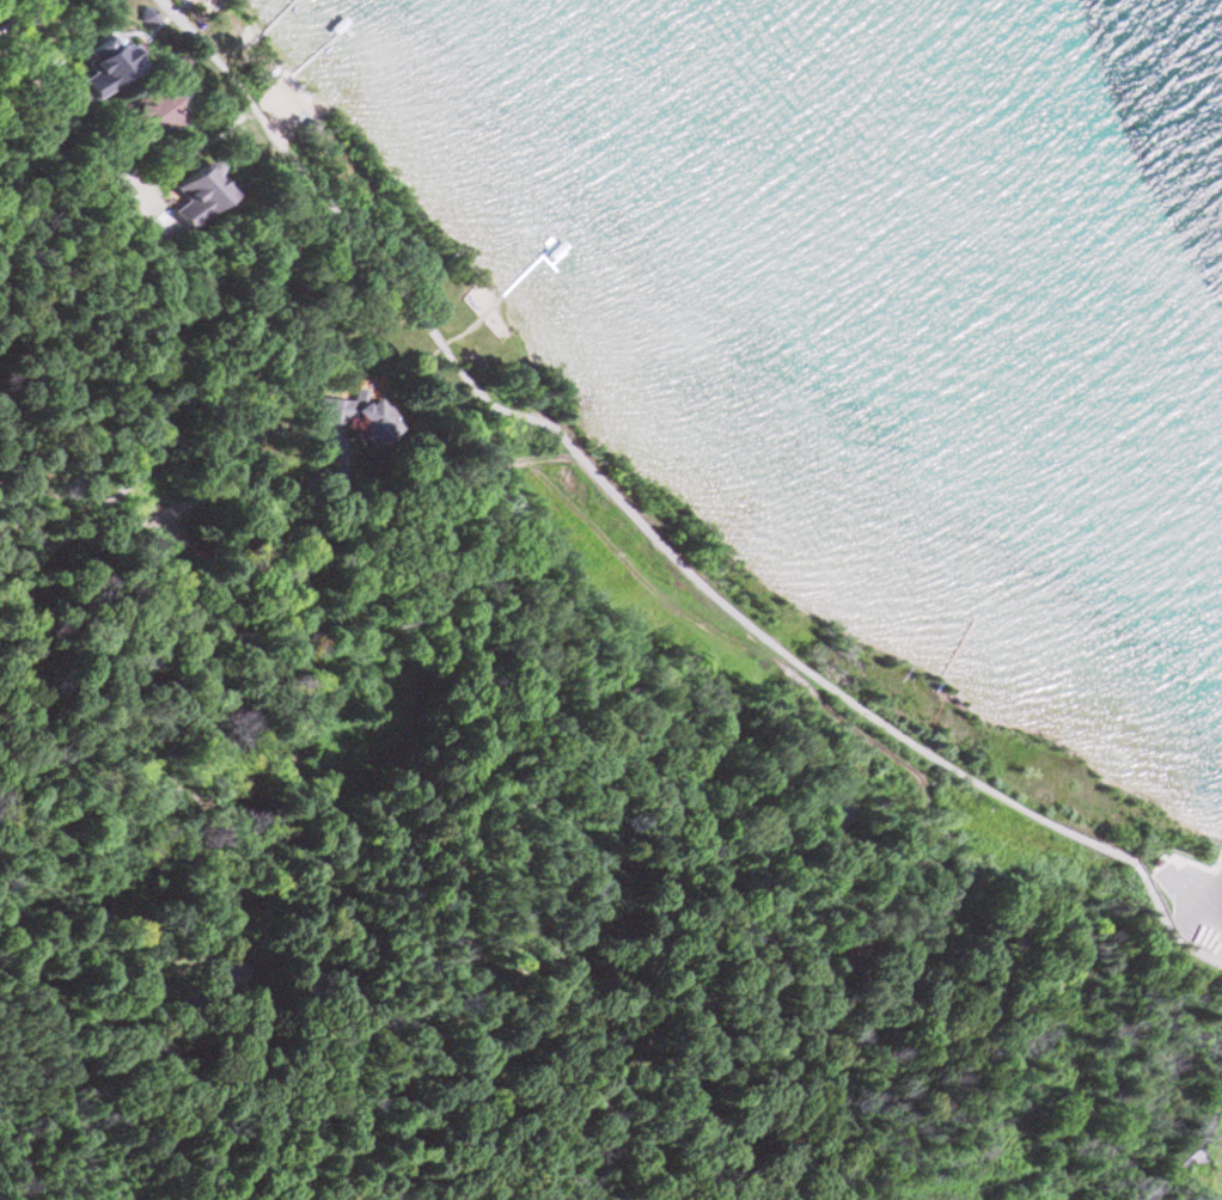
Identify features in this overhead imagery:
road: (164, 274)
road: (628, 510)
road: (36, 567)
building: (1156, 861)
road: (1191, 861)
road: (1163, 888)
road: (1196, 949)

